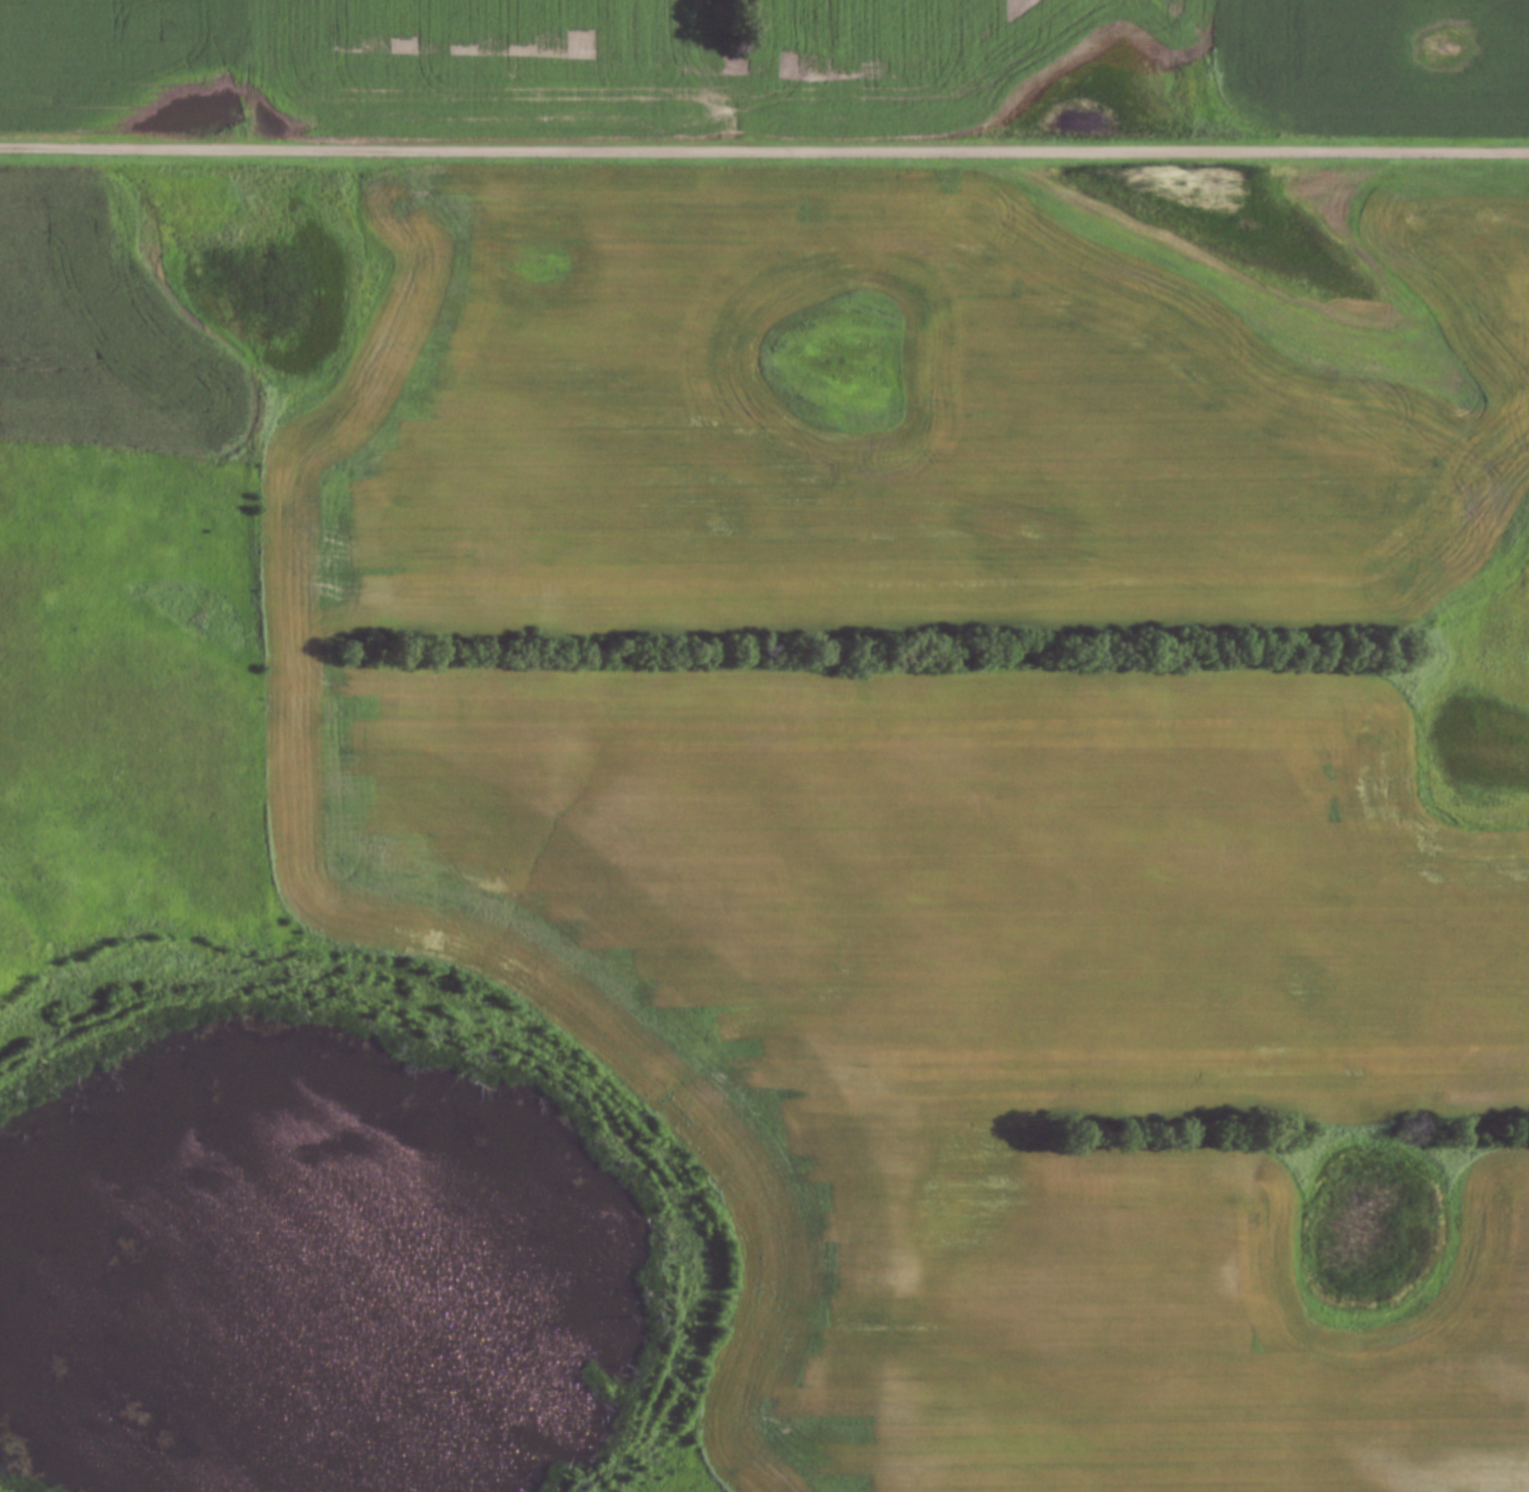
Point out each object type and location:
road: (764, 152)

